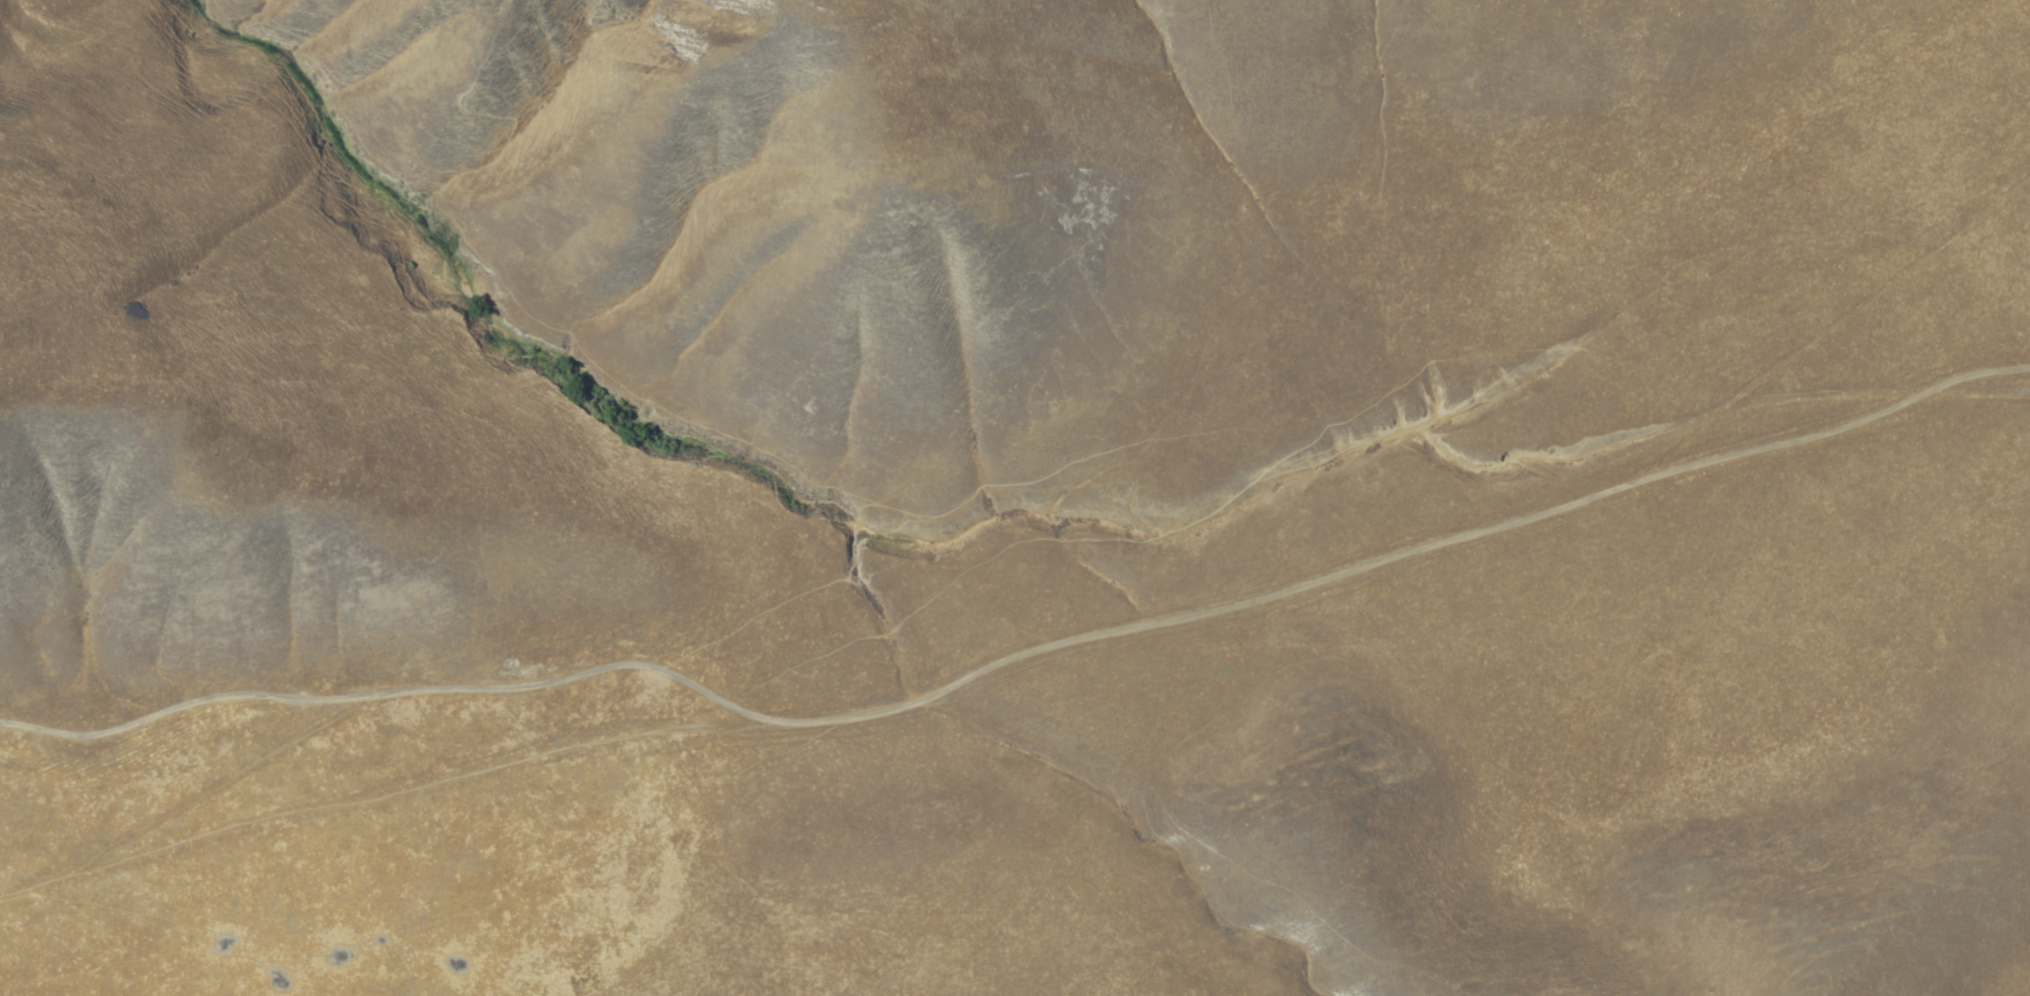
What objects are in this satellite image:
road: (1023, 610)

